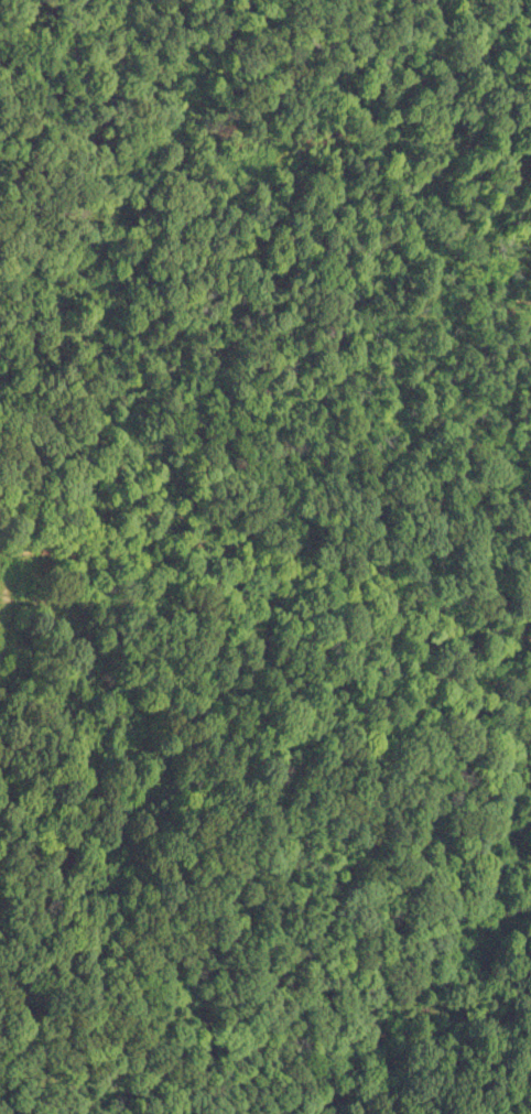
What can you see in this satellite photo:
road: (269, 607)

